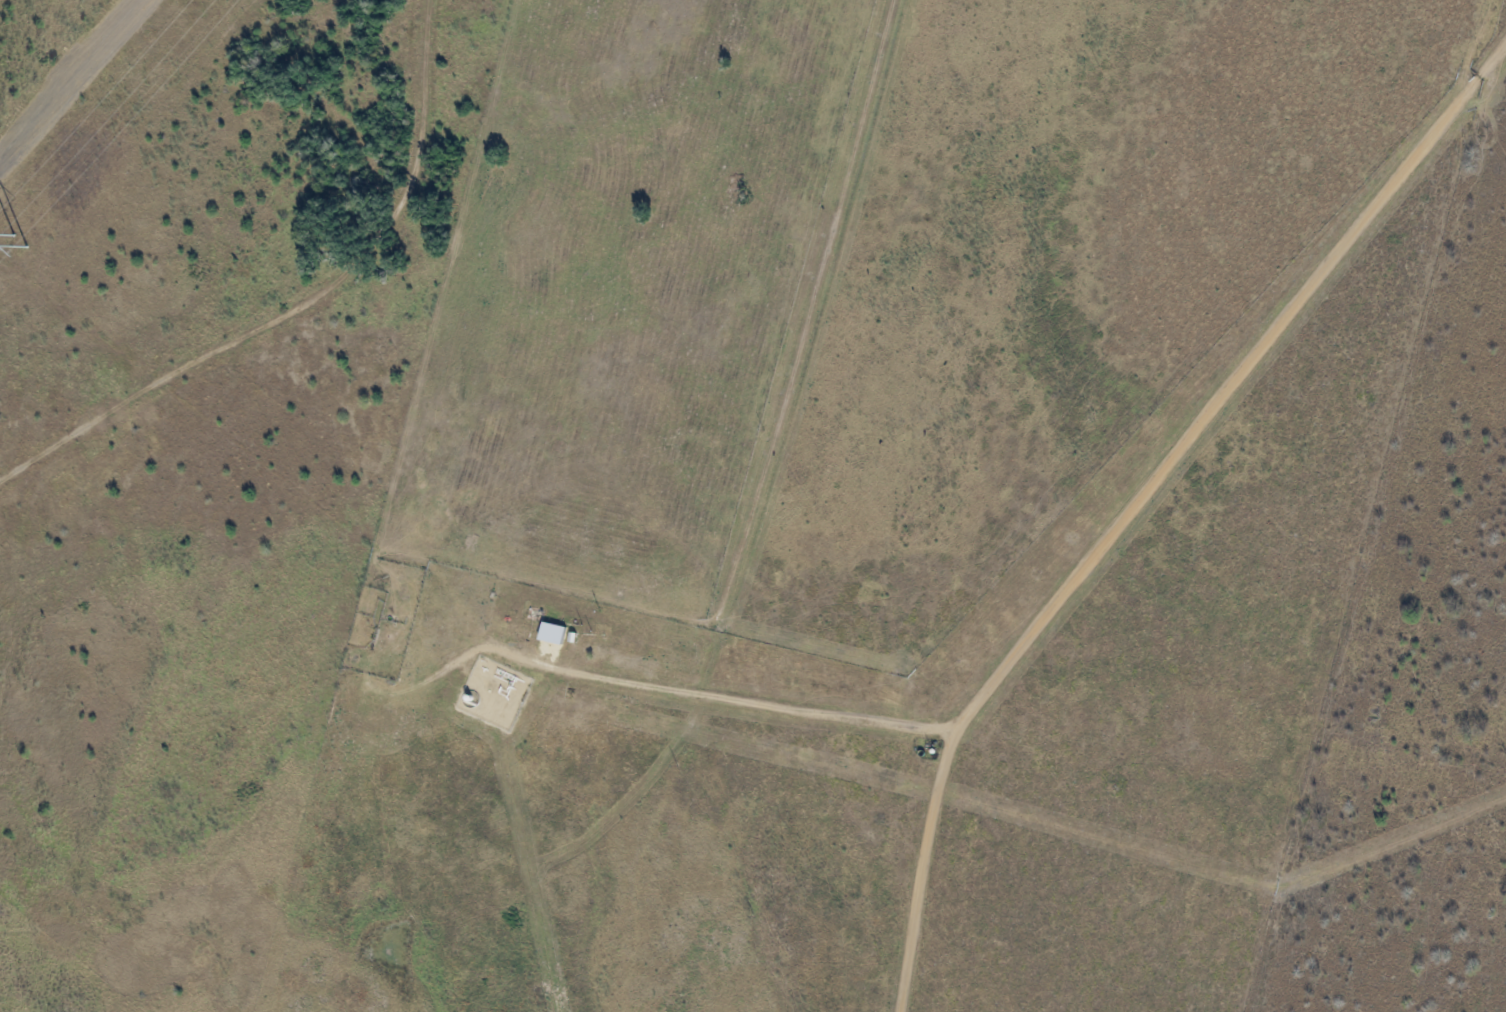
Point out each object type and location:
power tower: (19, 251)
road: (1121, 512)
building: (579, 637)
building: (605, 644)
building: (498, 693)
road: (924, 871)

